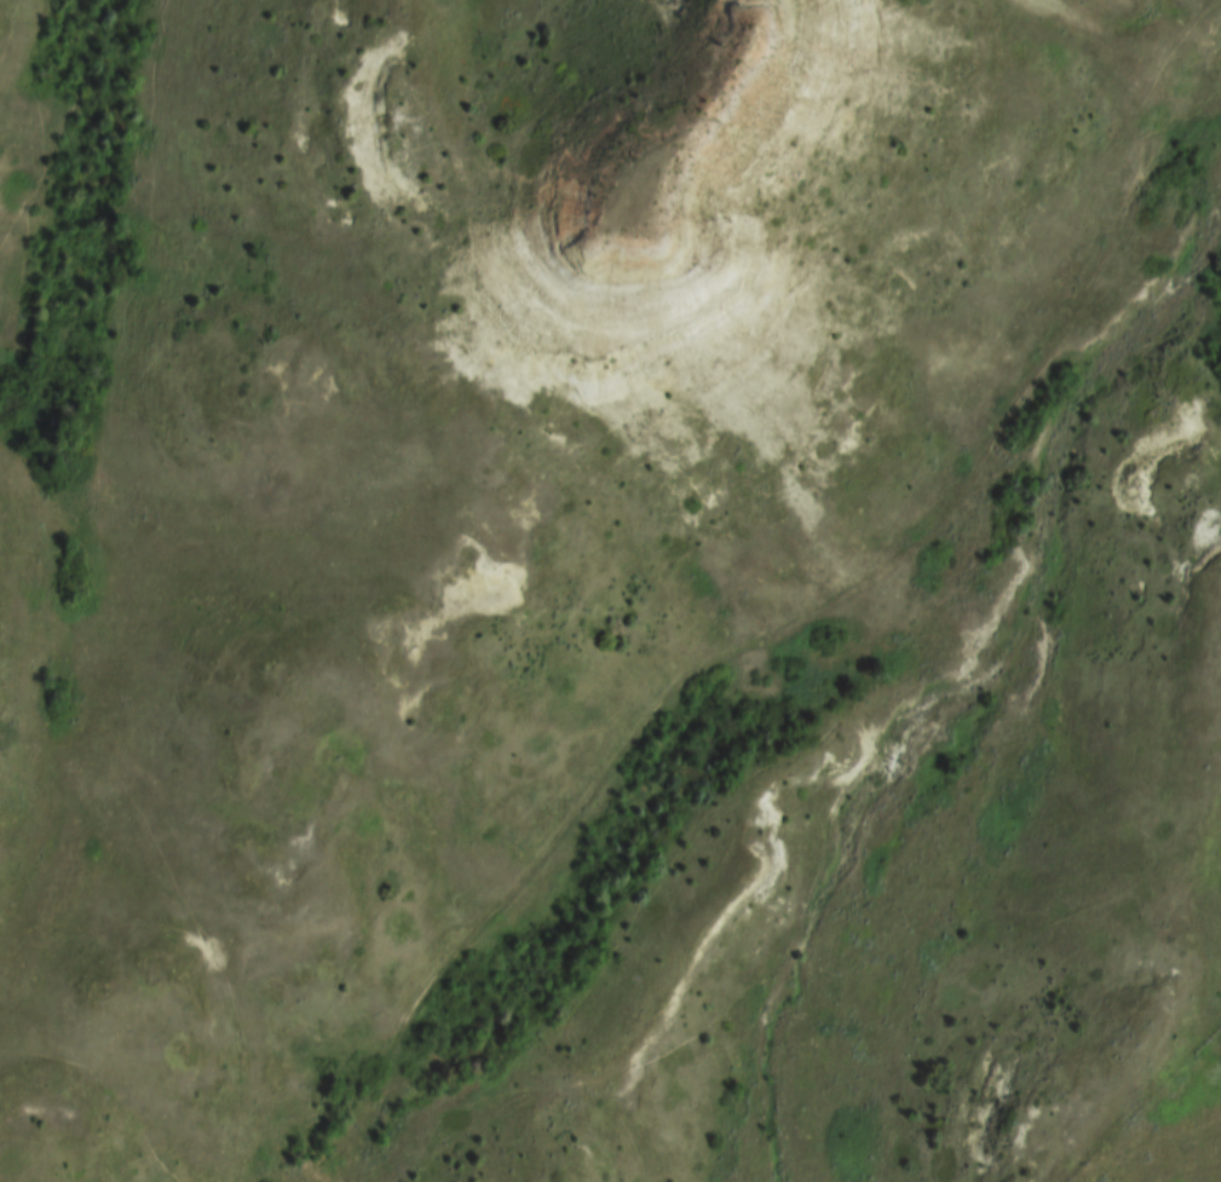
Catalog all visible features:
road: (1174, 120)
road: (812, 615)

